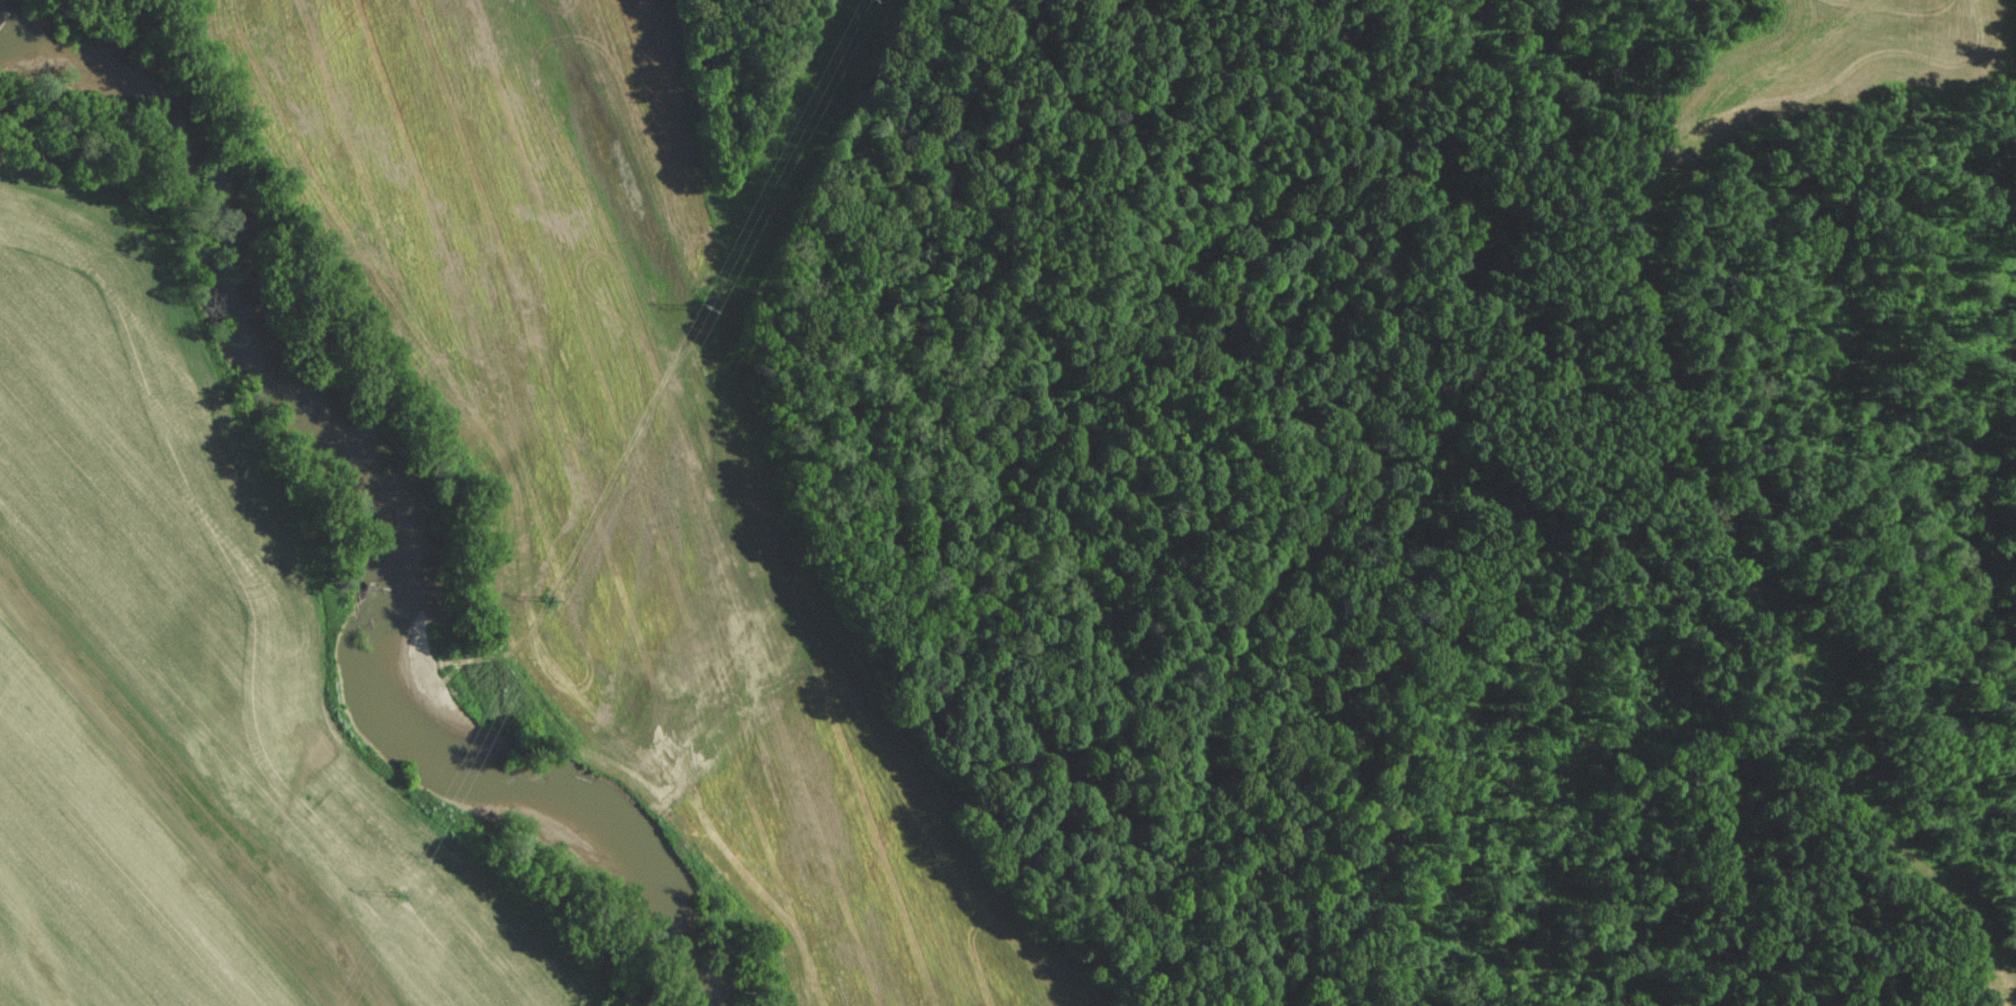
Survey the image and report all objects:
river: (389, 529)

